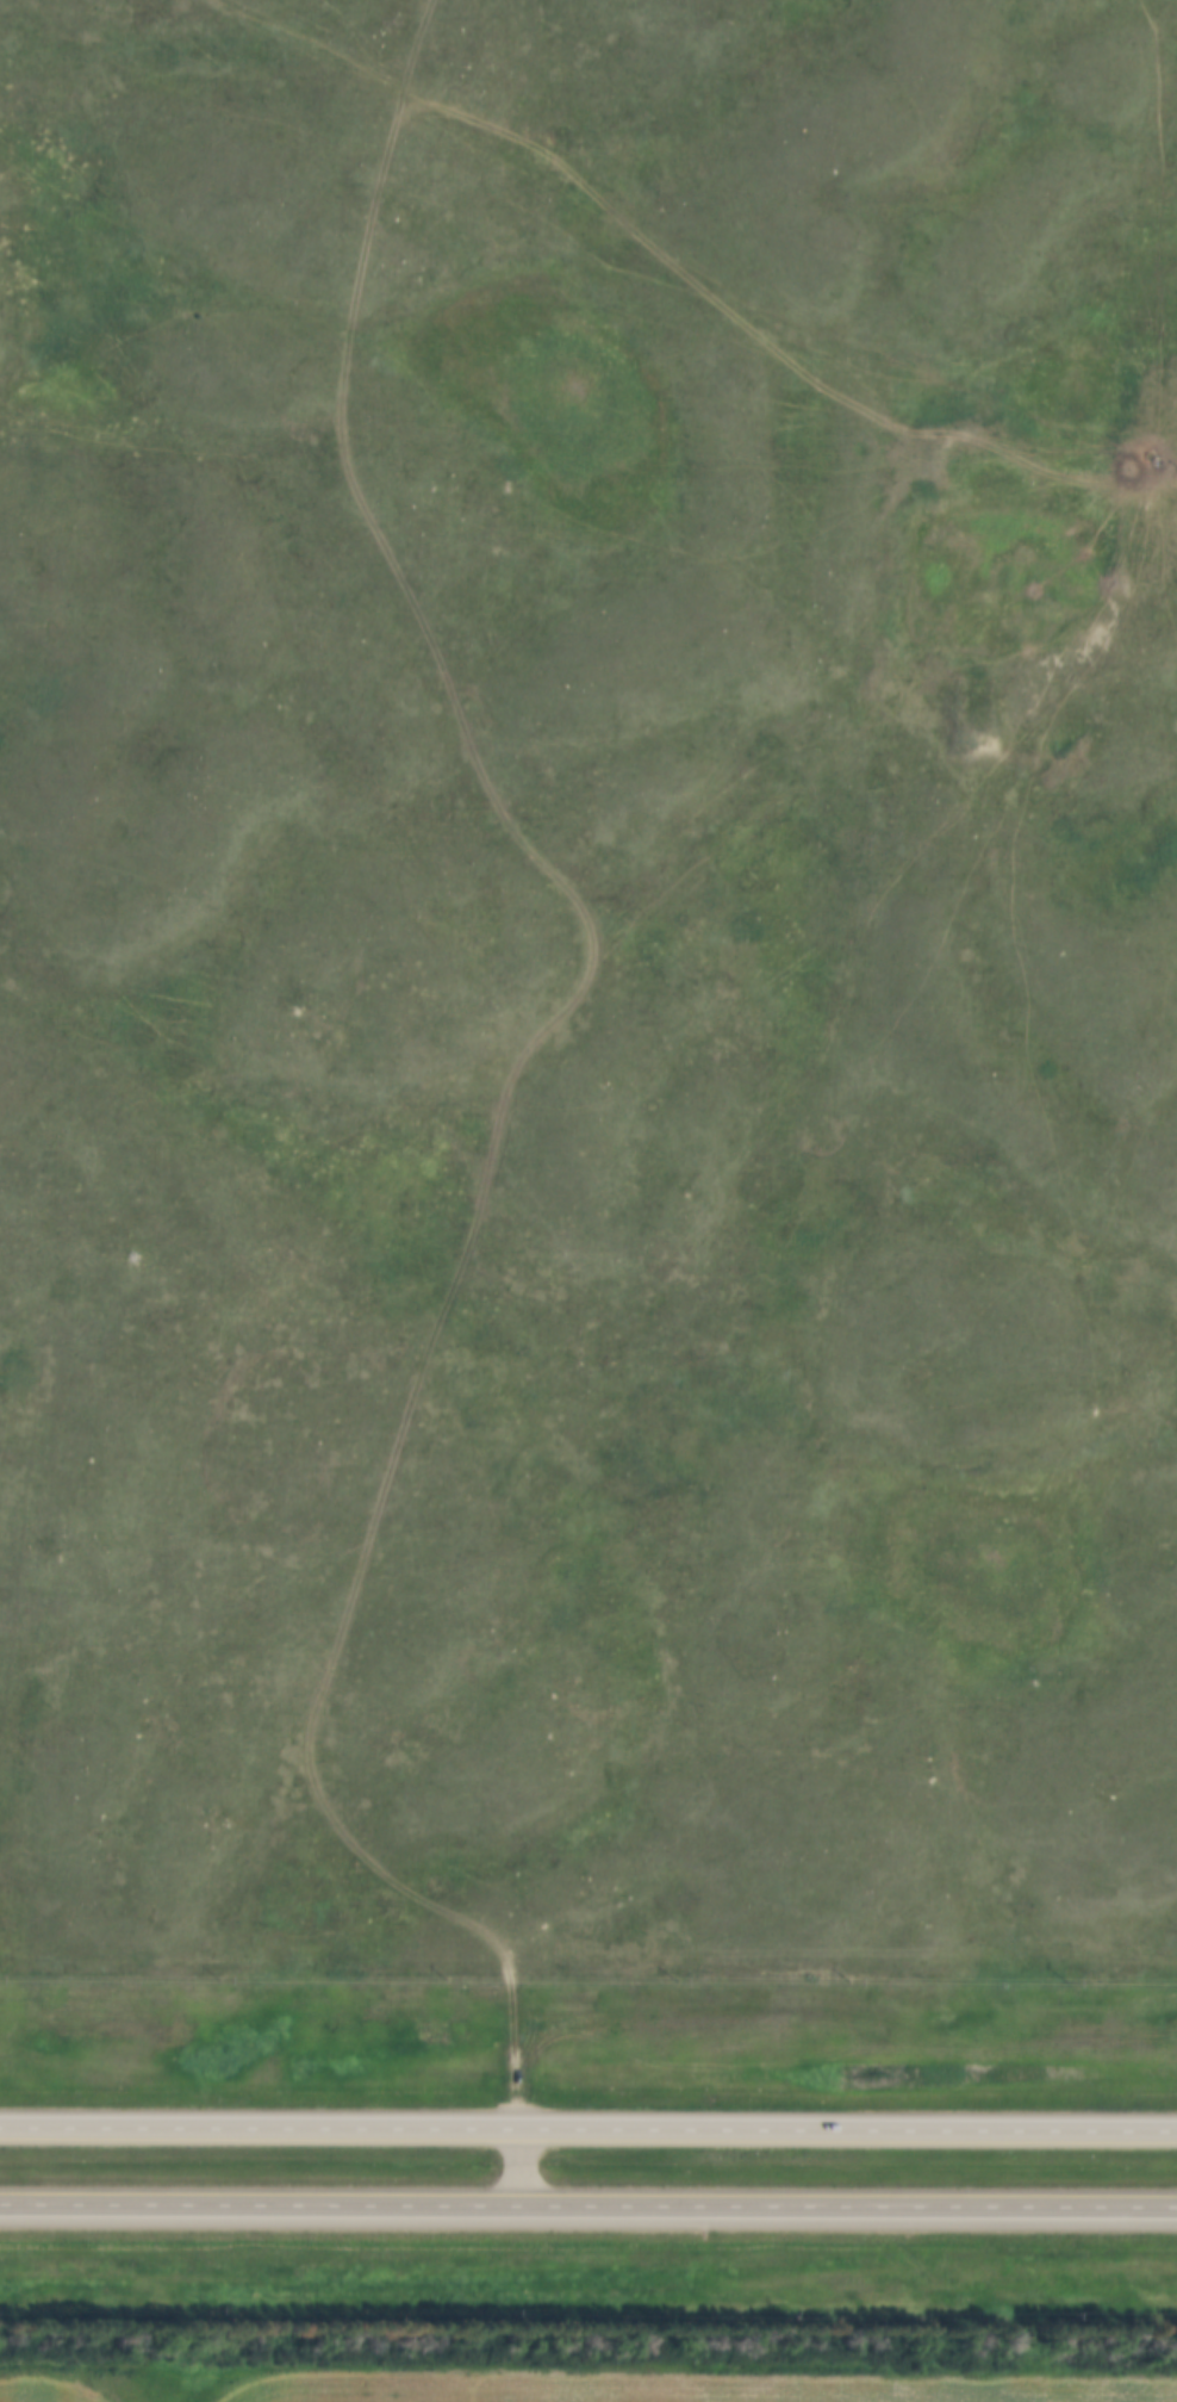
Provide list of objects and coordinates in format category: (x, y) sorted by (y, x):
road: (519, 1074)
road: (587, 2133)
road: (517, 2167)
road: (588, 2203)

